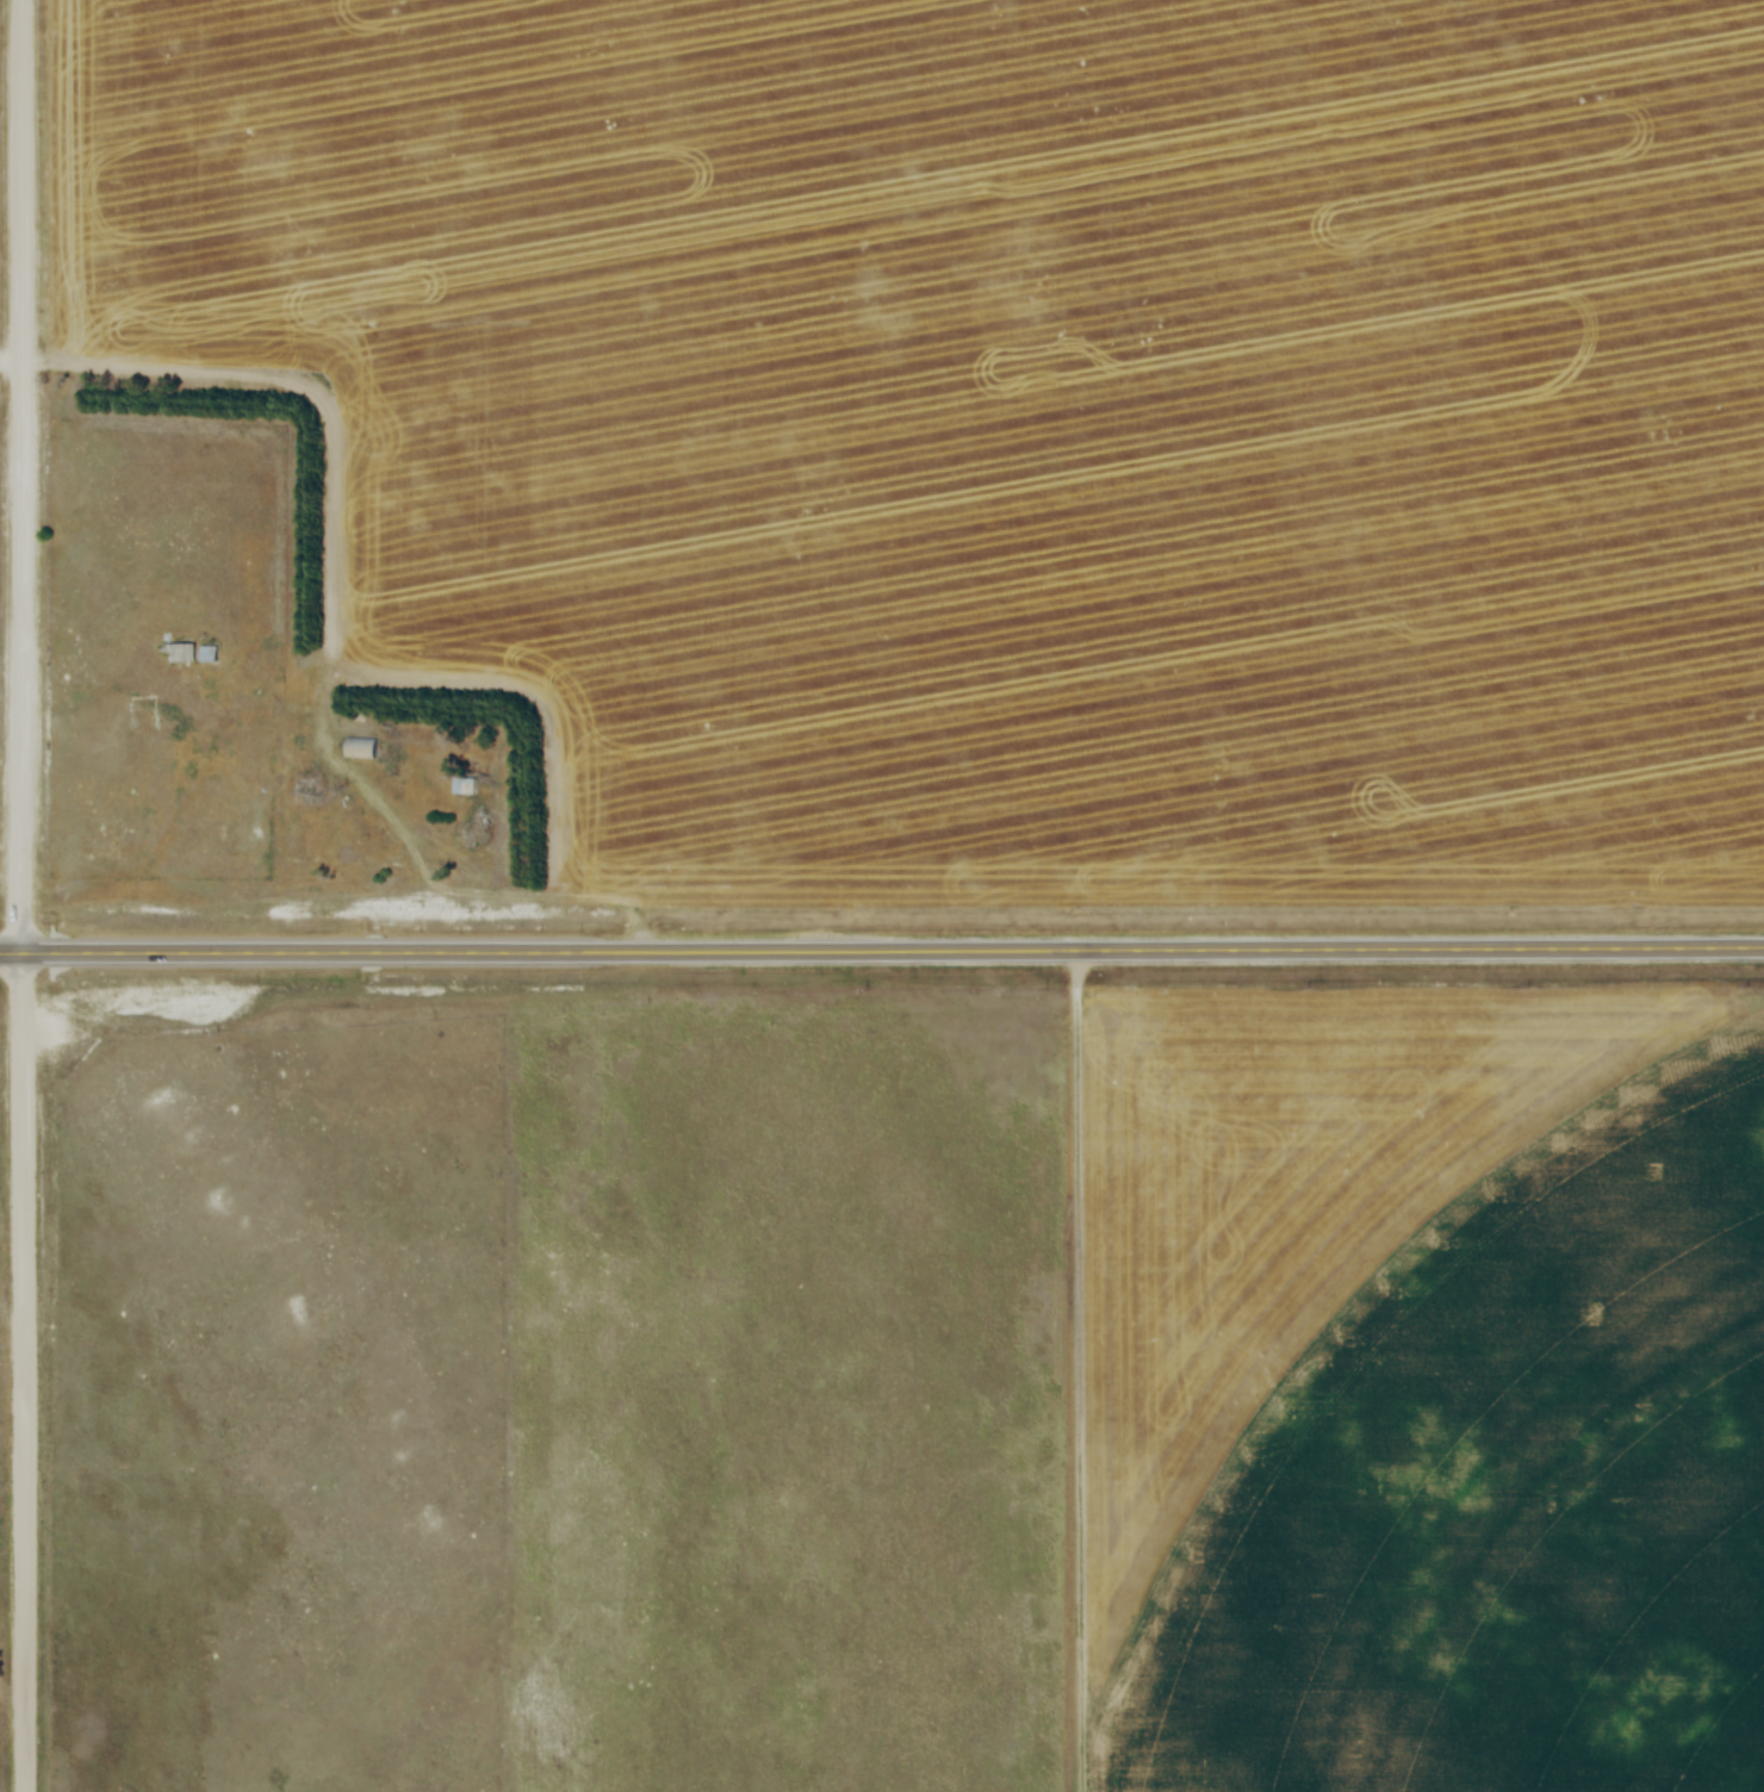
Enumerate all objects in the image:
road: (23, 475)
building: (180, 652)
building: (209, 654)
building: (361, 748)
building: (465, 785)
road: (474, 896)
road: (882, 952)
road: (24, 1371)

